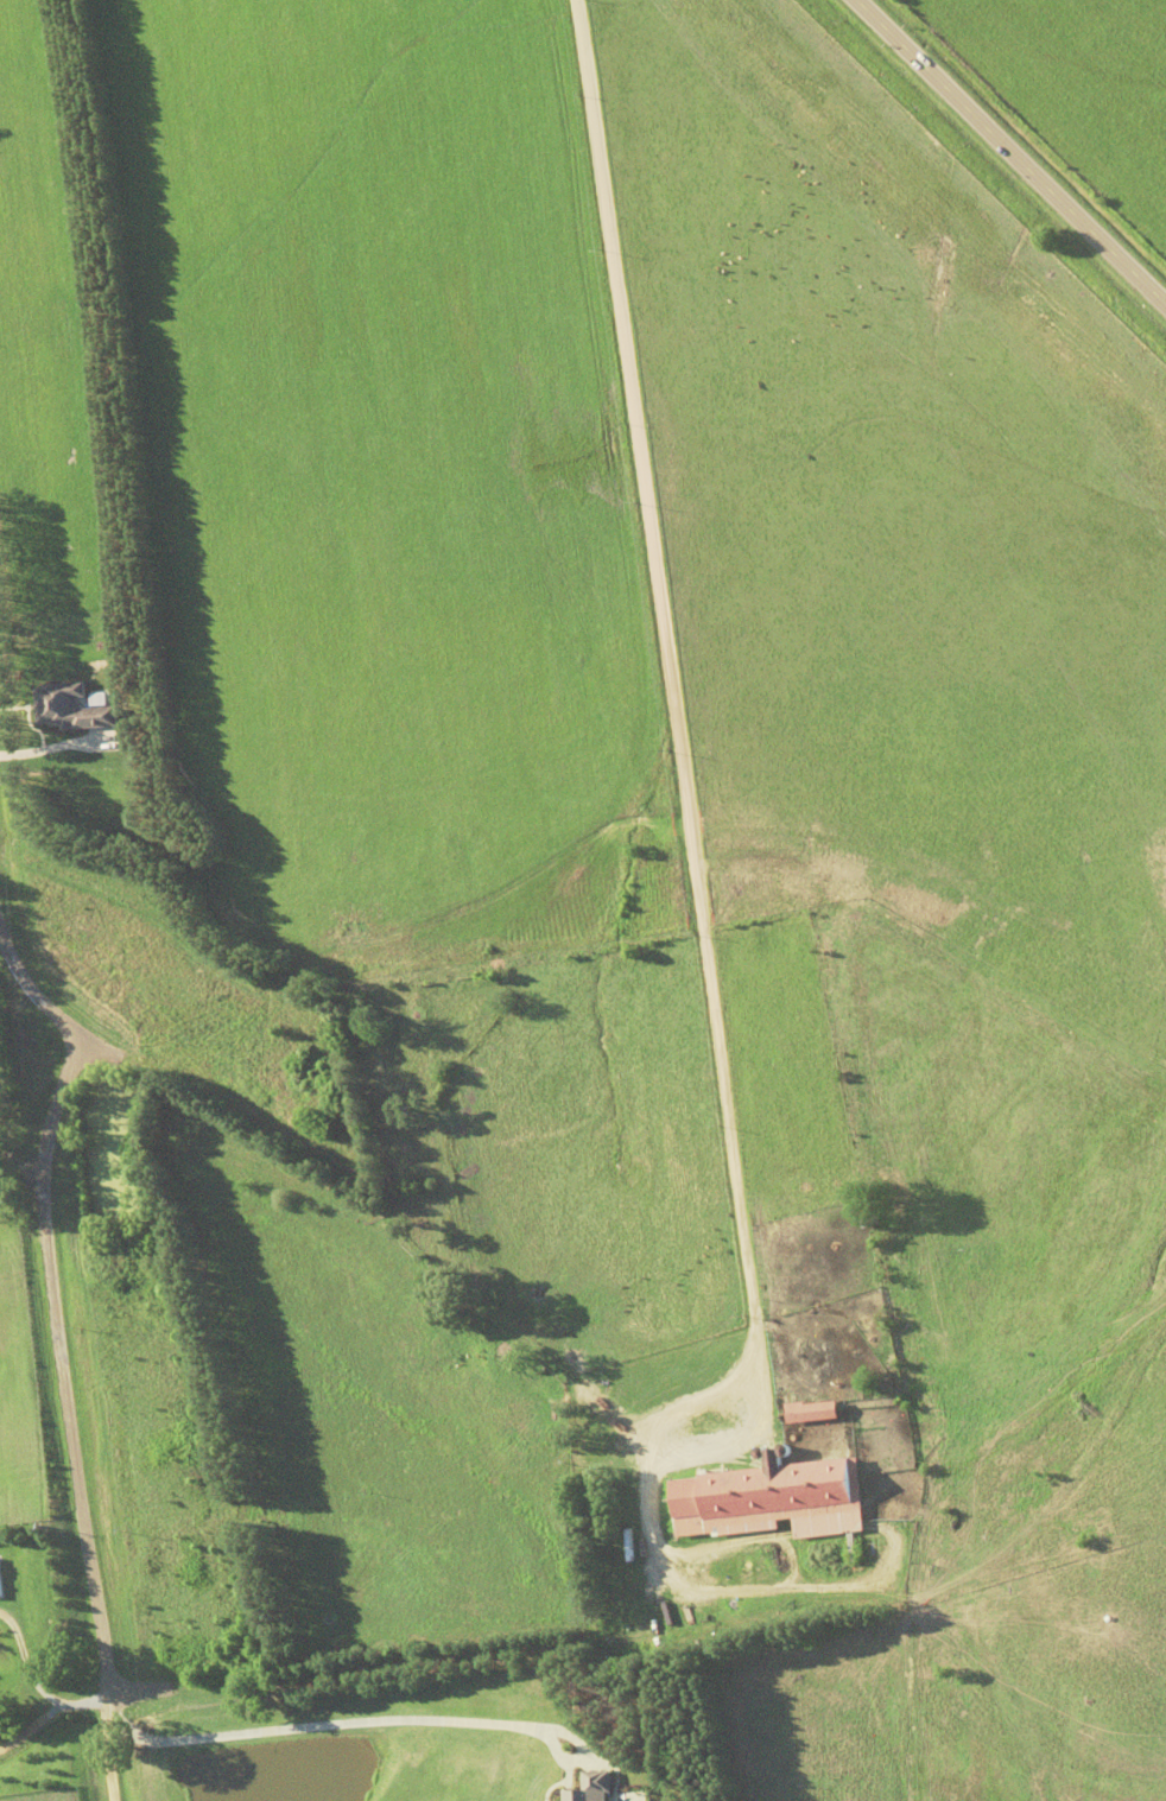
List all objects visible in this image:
road: (995, 158)
road: (622, 737)
building: (872, 1220)
road: (56, 1302)
road: (569, 1412)
building: (810, 1412)
building: (769, 1497)
road: (321, 1675)
building: (616, 1792)

